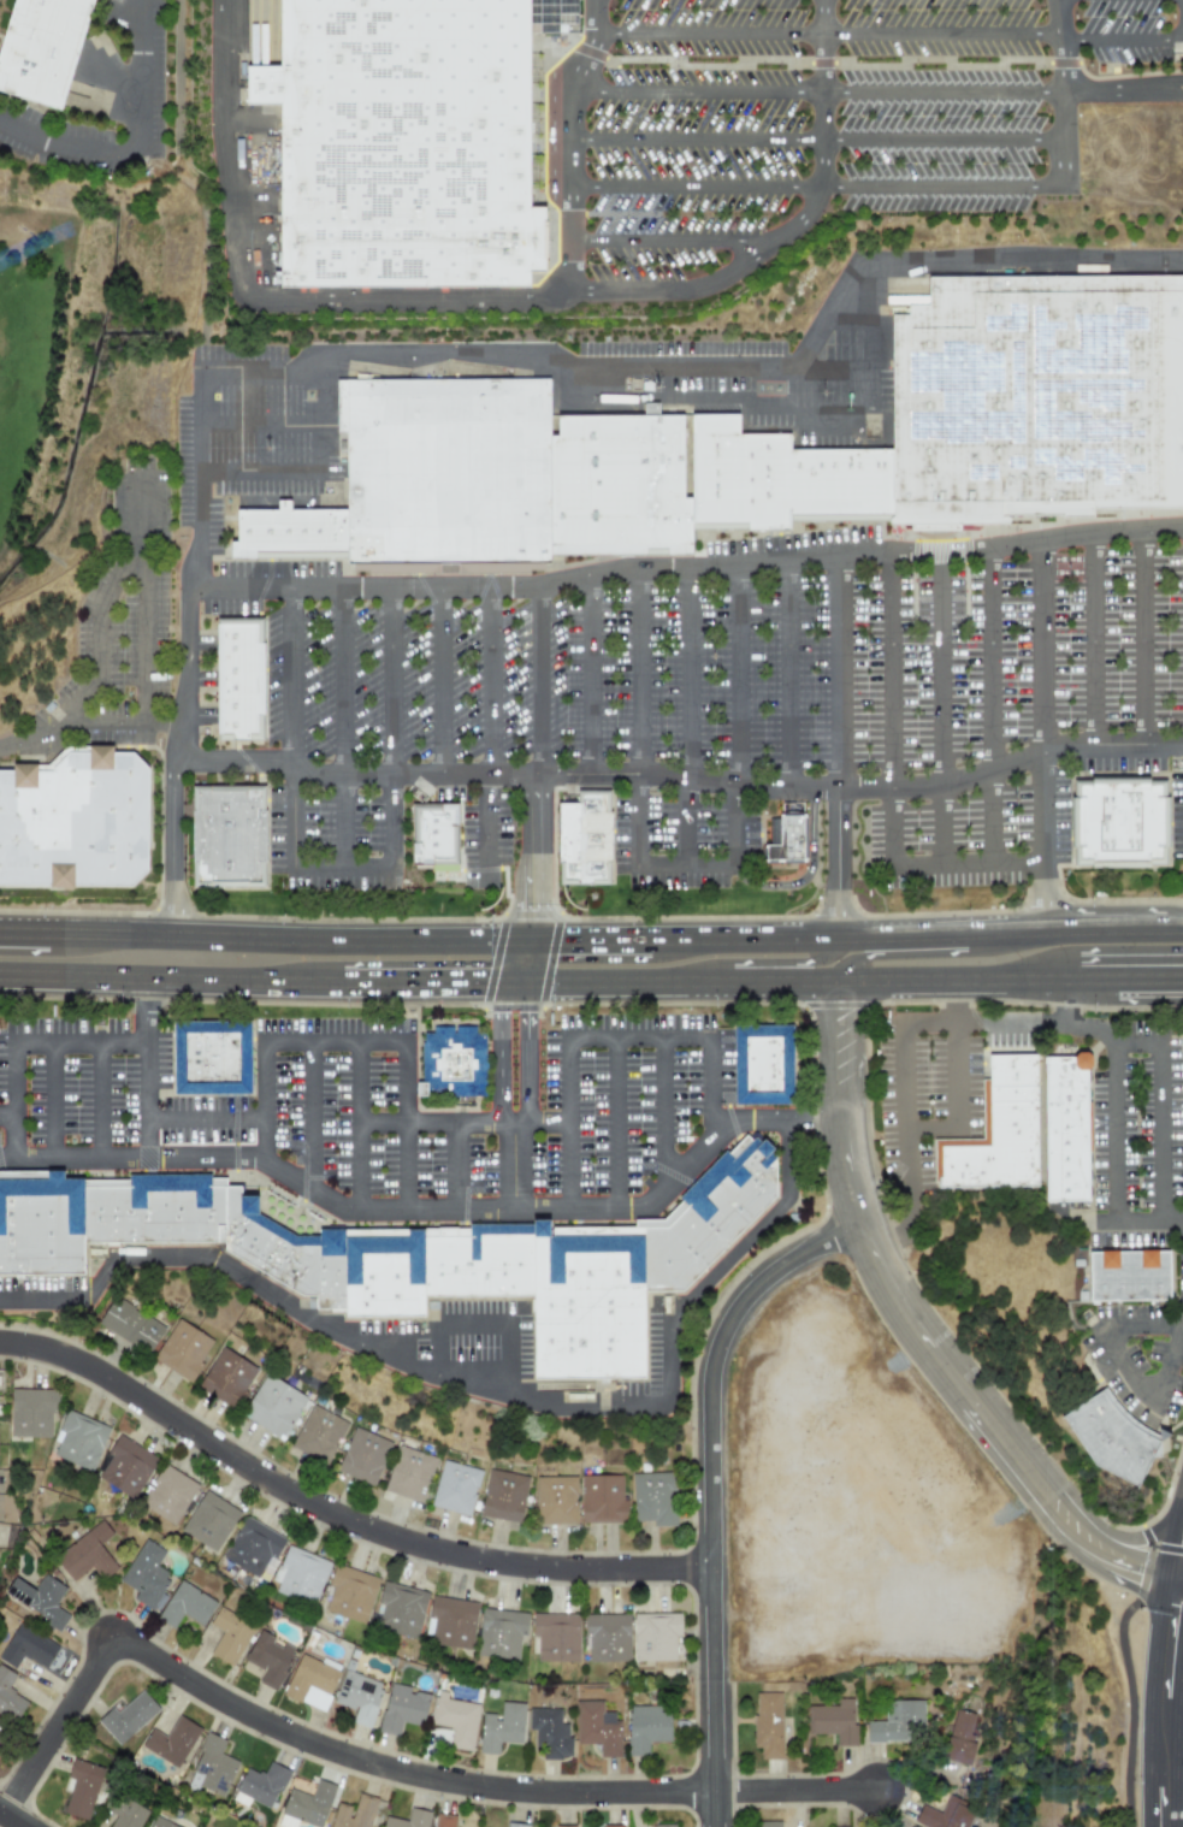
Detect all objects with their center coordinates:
road: (711, 35)
road: (944, 35)
road: (1140, 36)
building: (49, 53)
road: (137, 78)
road: (177, 78)
road: (1124, 91)
road: (1065, 93)
road: (820, 94)
road: (820, 141)
building: (407, 143)
road: (573, 143)
road: (61, 147)
road: (818, 187)
road: (793, 229)
road: (673, 242)
road: (205, 279)
road: (261, 300)
road: (875, 320)
road: (732, 369)
building: (1036, 396)
road: (202, 400)
road: (651, 400)
road: (856, 420)
road: (262, 424)
road: (273, 472)
building: (448, 472)
building: (780, 478)
building: (620, 481)
road: (132, 521)
building: (294, 530)
road: (687, 570)
road: (100, 633)
road: (1144, 635)
road: (1095, 637)
road: (148, 643)
road: (1045, 648)
road: (789, 674)
road: (592, 675)
building: (236, 679)
road: (542, 680)
road: (444, 681)
road: (992, 703)
road: (944, 705)
road: (641, 717)
road: (691, 717)
road: (87, 721)
road: (344, 727)
road: (294, 728)
road: (179, 732)
road: (492, 737)
road: (840, 740)
road: (740, 764)
road: (681, 775)
road: (394, 777)
road: (894, 785)
building: (75, 823)
building: (1120, 823)
building: (433, 835)
building: (227, 838)
building: (590, 838)
building: (794, 839)
road: (1045, 841)
road: (537, 849)
road: (810, 874)
road: (503, 877)
traffic signals: (534, 904)
road: (25, 916)
road: (290, 923)
traffic signals: (573, 924)
road: (591, 924)
road: (848, 924)
road: (1105, 930)
road: (1173, 930)
road: (916, 954)
road: (521, 962)
road: (764, 965)
road: (1123, 995)
road: (1181, 995)
road: (1181, 995)
road: (159, 998)
road: (789, 998)
road: (416, 1000)
traffic signals: (483, 1000)
traffic signals: (527, 1021)
road: (640, 1036)
road: (82, 1041)
road: (277, 1042)
building: (214, 1057)
road: (501, 1060)
road: (526, 1060)
building: (456, 1063)
road: (958, 1063)
building: (768, 1064)
road: (148, 1077)
road: (904, 1078)
road: (99, 1099)
road: (14, 1100)
road: (54, 1100)
road: (406, 1102)
road: (663, 1112)
road: (308, 1114)
road: (7, 1117)
road: (567, 1119)
road: (779, 1119)
road: (206, 1121)
road: (462, 1121)
road: (615, 1121)
road: (359, 1123)
road: (931, 1129)
building: (1072, 1129)
building: (1002, 1131)
road: (454, 1163)
road: (514, 1163)
road: (1161, 1188)
road: (414, 1206)
building: (712, 1217)
road: (1172, 1225)
building: (259, 1242)
building: (1134, 1276)
building: (591, 1303)
road: (484, 1320)
road: (1182, 1322)
building: (130, 1325)
road: (925, 1337)
building: (182, 1349)
road: (1125, 1366)
building: (226, 1377)
road: (474, 1385)
building: (273, 1406)
building: (31, 1411)
building: (318, 1435)
building: (78, 1439)
building: (1118, 1439)
building: (362, 1456)
building: (125, 1466)
building: (408, 1473)
road: (1178, 1486)
building: (455, 1488)
road: (710, 1488)
building: (166, 1494)
building: (503, 1496)
building: (652, 1497)
building: (601, 1498)
building: (555, 1500)
road: (337, 1514)
building: (208, 1520)
road: (1128, 1532)
road: (1165, 1539)
traffic signals: (1165, 1539)
building: (252, 1547)
building: (87, 1553)
traffic signals: (1136, 1568)
building: (144, 1574)
building: (298, 1574)
road: (1181, 1574)
road: (1181, 1578)
building: (349, 1594)
building: (37, 1598)
building: (185, 1606)
building: (400, 1609)
building: (450, 1621)
building: (499, 1633)
building: (229, 1636)
building: (653, 1636)
building: (555, 1637)
building: (605, 1637)
building: (25, 1648)
building: (268, 1659)
building: (310, 1681)
building: (357, 1696)
building: (8, 1697)
road: (1167, 1702)
building: (402, 1708)
building: (128, 1716)
building: (455, 1719)
building: (833, 1721)
building: (897, 1722)
building: (767, 1723)
building: (501, 1726)
building: (596, 1727)
building: (645, 1727)
building: (549, 1732)
building: (960, 1737)
building: (2, 1738)
building: (170, 1740)
building: (212, 1767)
road: (379, 1767)
building: (260, 1785)
building: (83, 1788)
building: (306, 1805)
building: (124, 1810)
building: (354, 1813)
building: (945, 1814)
road: (12, 1819)
building: (408, 1819)
building: (443, 1820)
building: (159, 1823)
building: (768, 1823)
building: (514, 1825)
building: (664, 1825)
building: (563, 1826)
building: (611, 1826)

